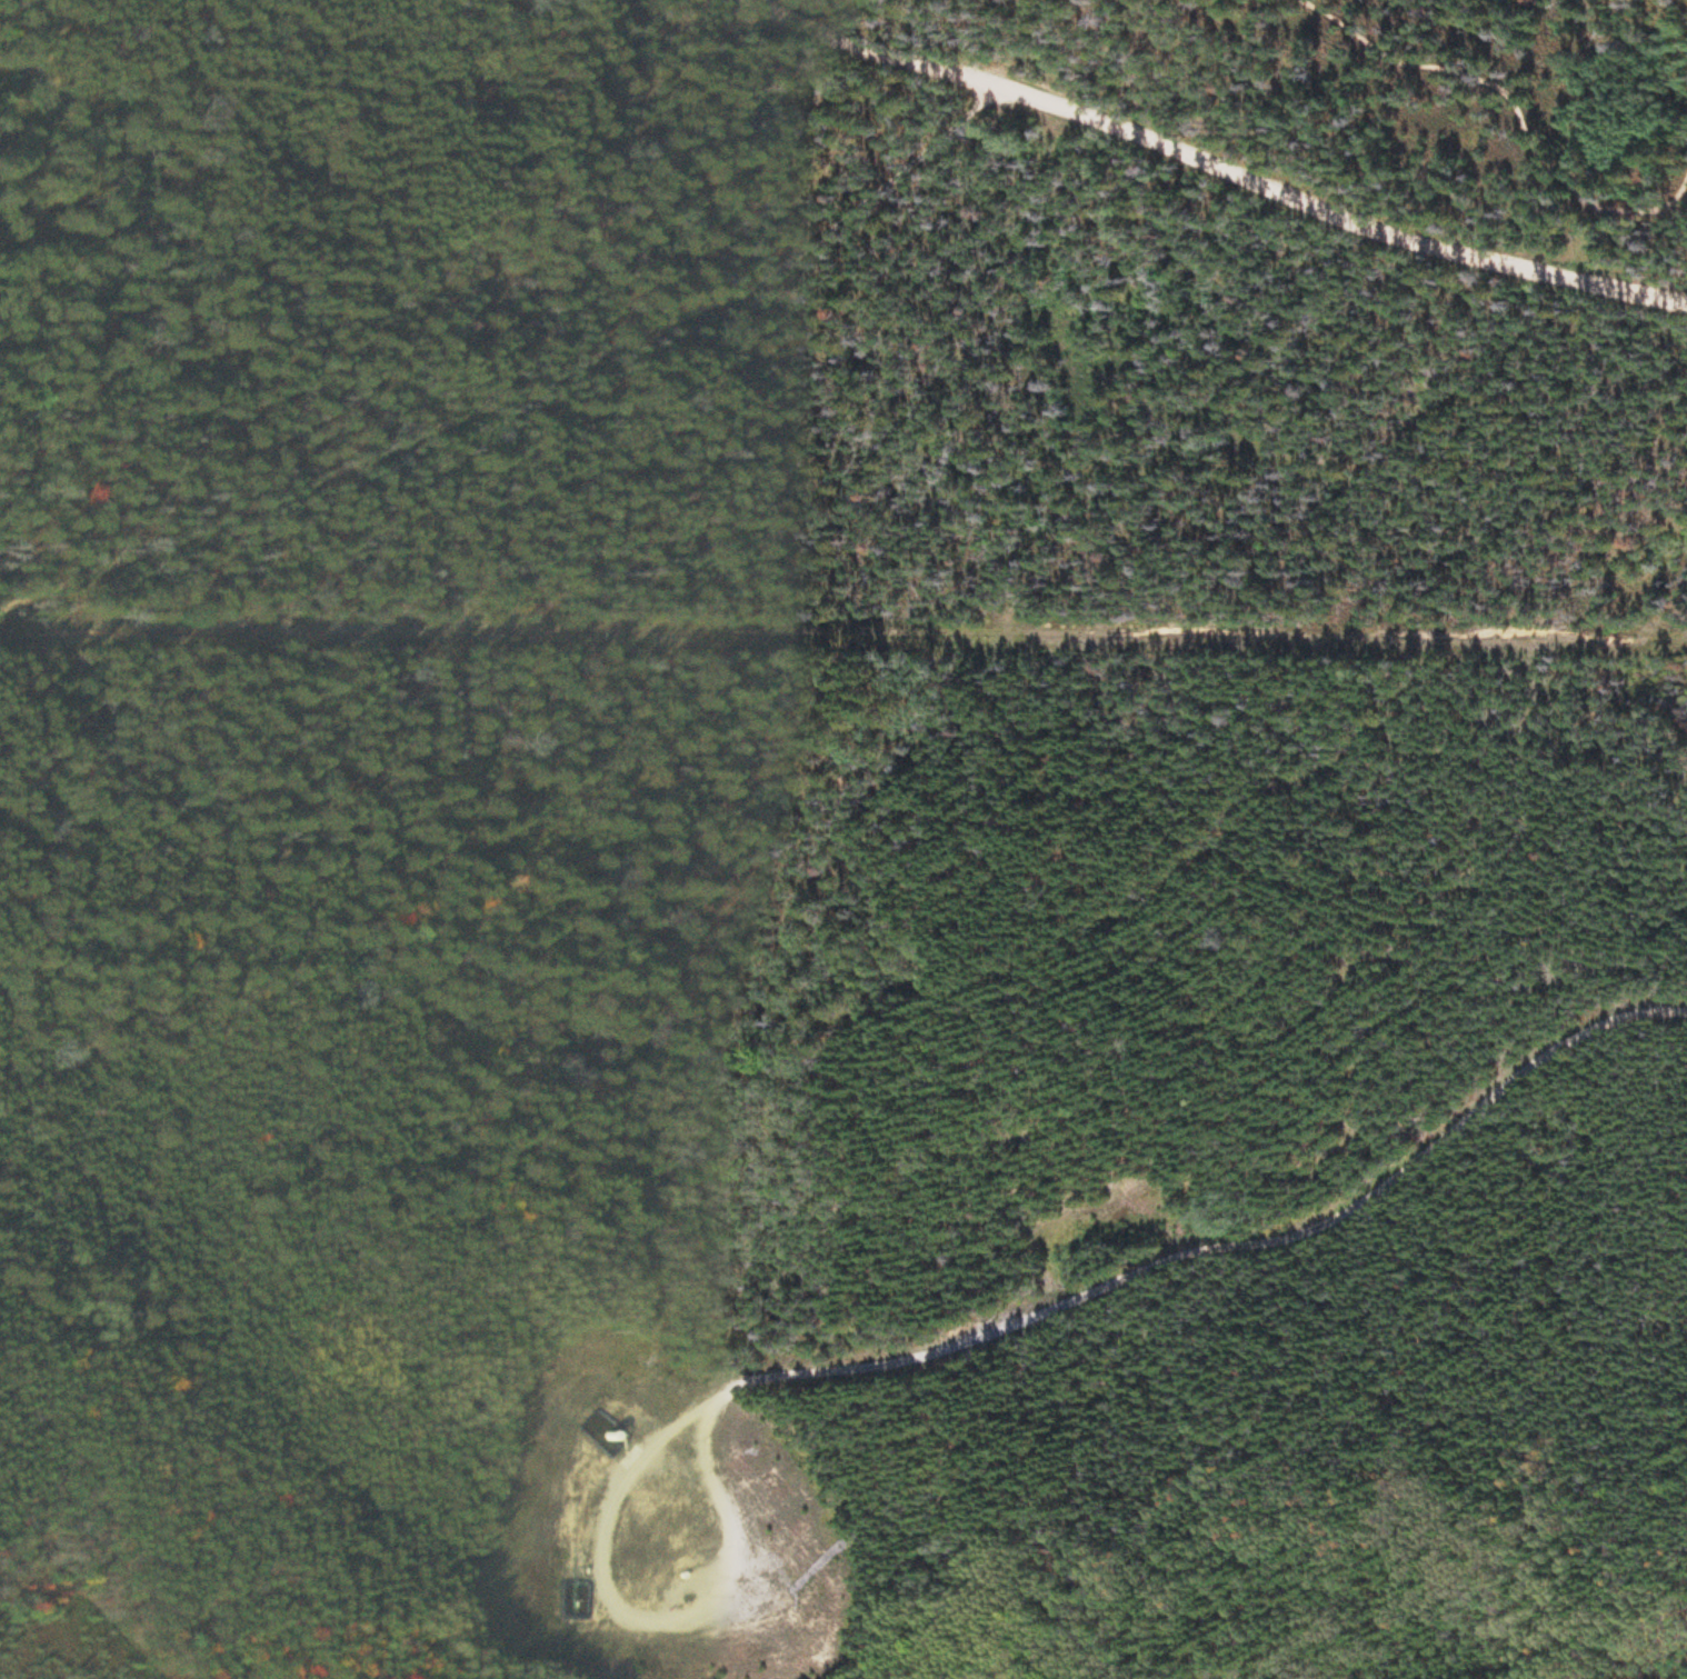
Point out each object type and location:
road: (48, 68)
road: (1519, 93)
road: (1229, 173)
road: (517, 359)
road: (427, 629)
road: (1271, 632)
road: (950, 1347)

